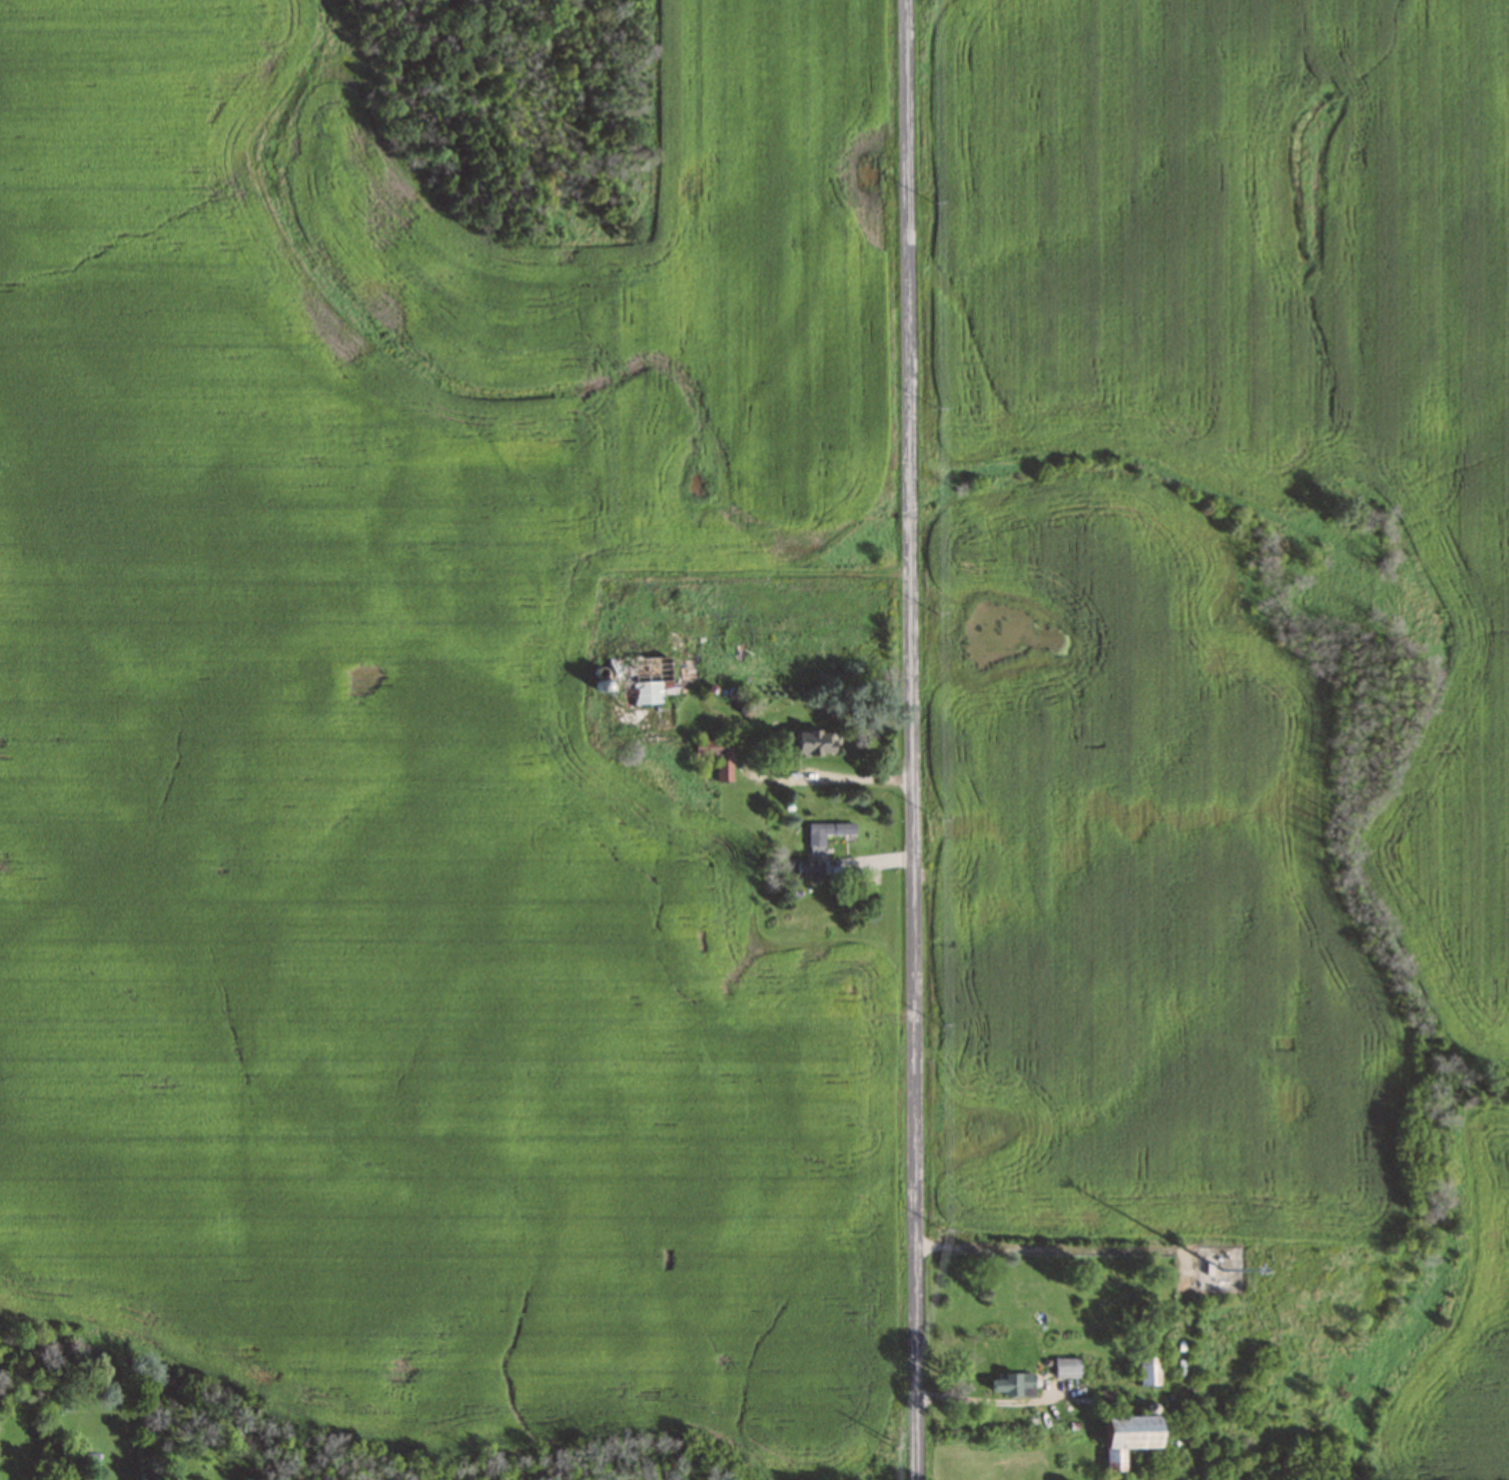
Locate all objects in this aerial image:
building: (639, 677)
road: (913, 740)
building: (817, 743)
building: (716, 755)
building: (825, 834)
building: (809, 868)
building: (1215, 1273)
building: (1067, 1367)
building: (1149, 1370)
building: (1014, 1384)
building: (1131, 1436)

